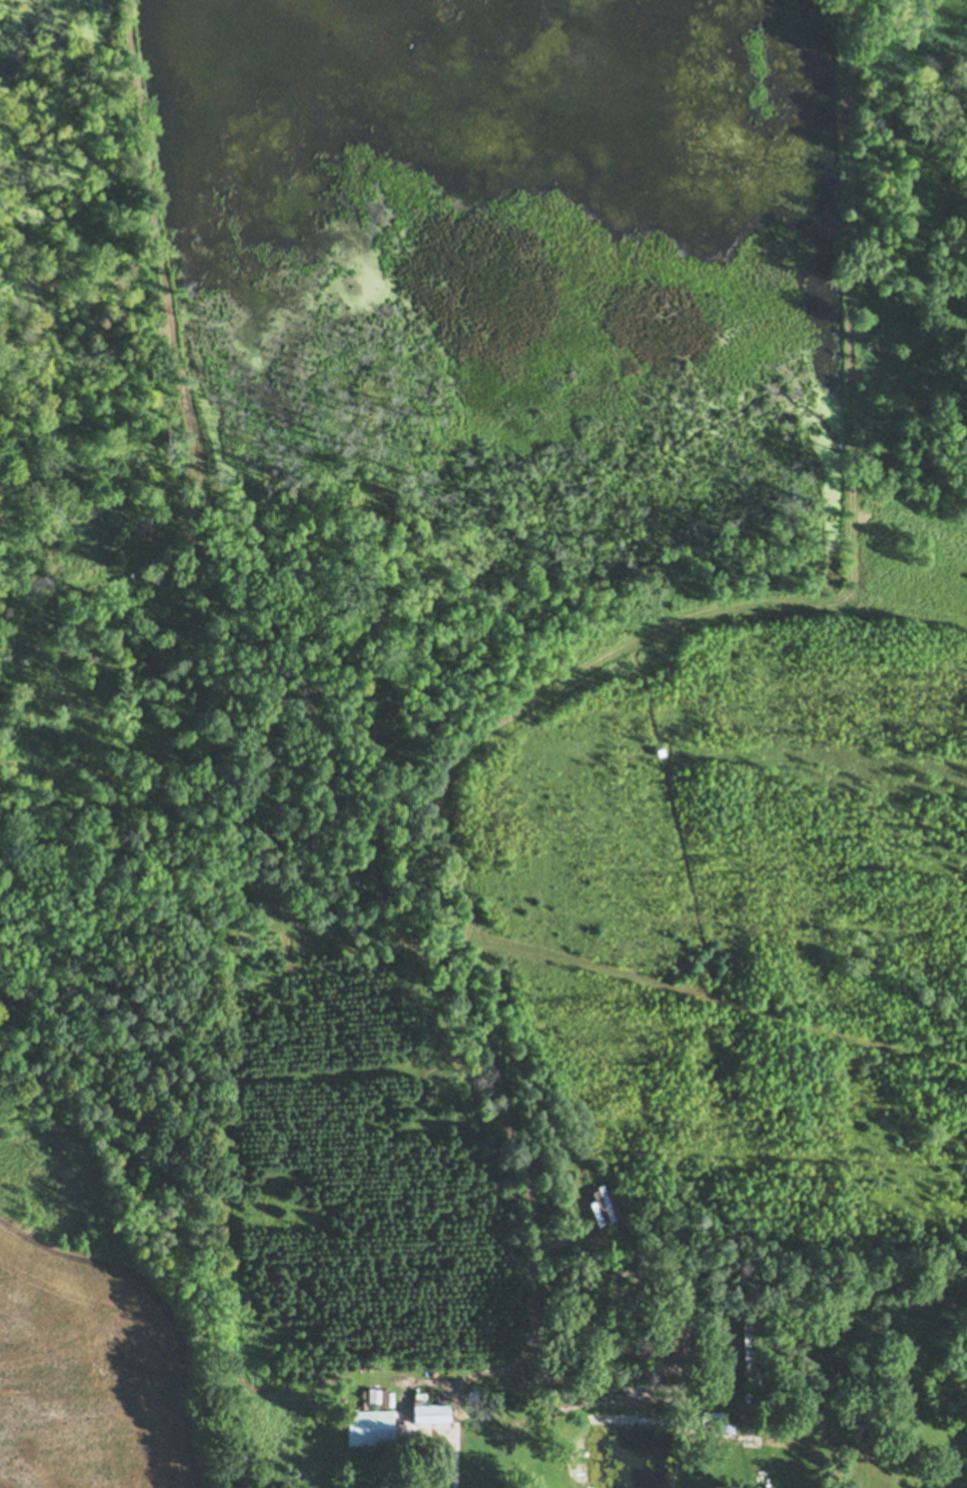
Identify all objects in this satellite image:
building: (593, 1209)
building: (749, 1347)
building: (420, 1390)
building: (473, 1390)
building: (709, 1399)
building: (430, 1406)
building: (369, 1423)
building: (717, 1423)
road: (455, 1458)
building: (764, 1485)

